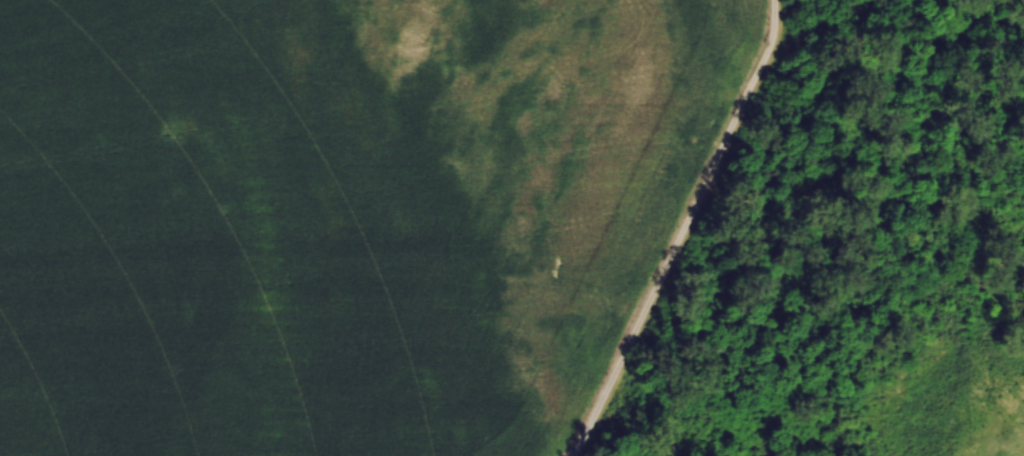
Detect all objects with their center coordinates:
crop: (330, 216)
road: (684, 230)

